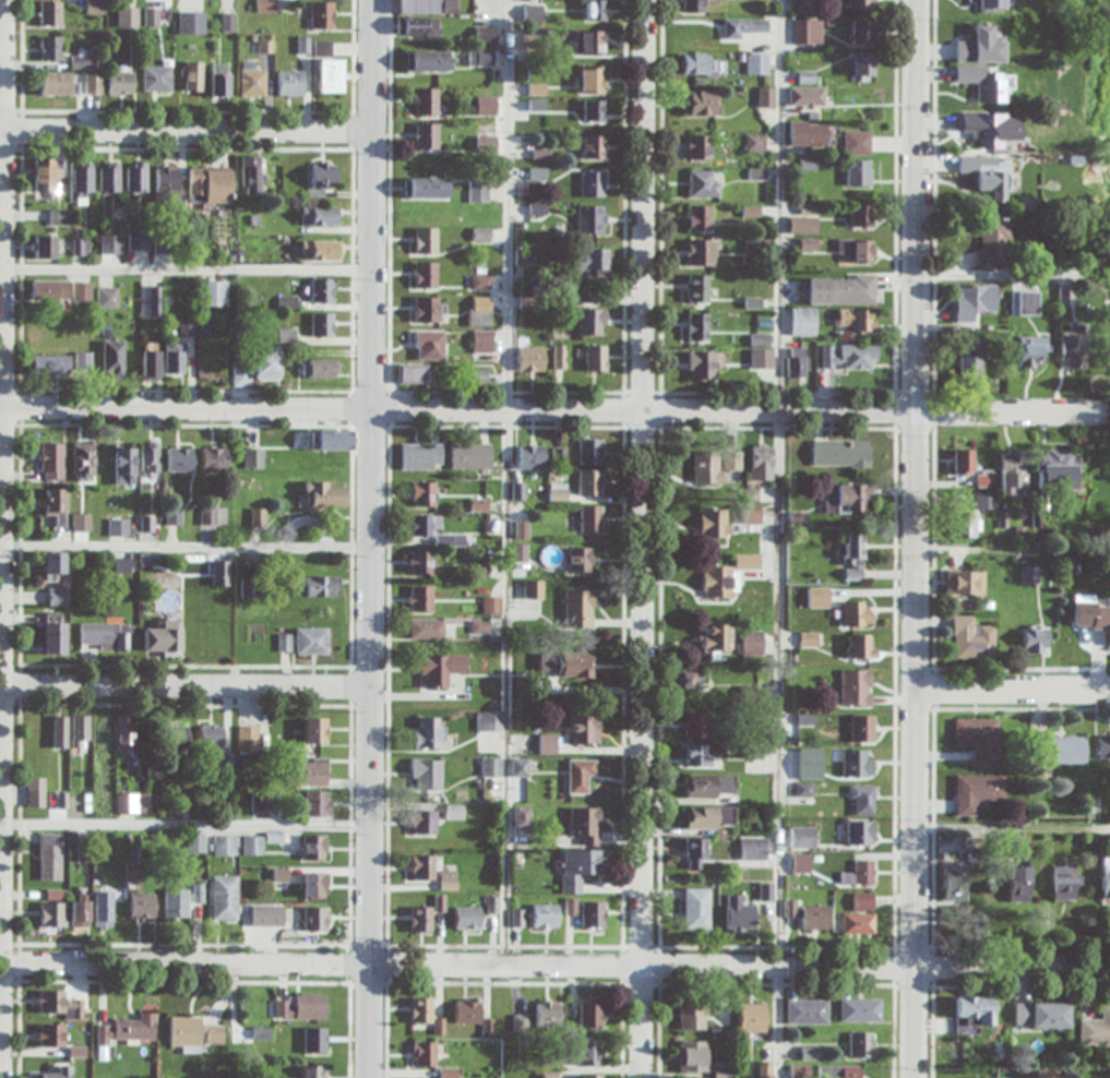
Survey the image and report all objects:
building: (863, 4)
building: (265, 5)
building: (693, 5)
building: (990, 5)
building: (94, 7)
building: (426, 7)
building: (594, 10)
building: (50, 14)
building: (322, 15)
building: (152, 16)
building: (128, 17)
building: (191, 23)
building: (416, 26)
building: (745, 27)
building: (808, 32)
building: (860, 32)
building: (485, 35)
building: (589, 41)
building: (980, 46)
building: (50, 50)
building: (480, 58)
building: (427, 61)
building: (79, 62)
building: (701, 64)
building: (757, 64)
building: (862, 65)
building: (330, 75)
building: (192, 76)
building: (156, 79)
building: (218, 80)
building: (251, 80)
building: (592, 80)
building: (121, 81)
building: (986, 82)
building: (290, 83)
building: (93, 84)
building: (55, 85)
building: (807, 97)
building: (765, 98)
building: (426, 101)
building: (699, 103)
building: (486, 106)
building: (594, 110)
building: (989, 128)
road: (186, 129)
building: (808, 135)
building: (426, 136)
building: (857, 142)
building: (593, 147)
building: (697, 147)
building: (858, 172)
building: (322, 175)
building: (988, 175)
building: (251, 176)
building: (48, 177)
building: (108, 177)
building: (135, 177)
building: (81, 180)
building: (703, 183)
building: (166, 184)
building: (592, 184)
building: (208, 185)
building: (425, 188)
building: (478, 192)
building: (319, 216)
building: (861, 216)
building: (58, 217)
building: (700, 218)
building: (589, 220)
building: (802, 226)
building: (139, 240)
building: (426, 240)
building: (993, 242)
building: (110, 244)
building: (44, 247)
building: (81, 247)
building: (320, 250)
building: (856, 251)
building: (699, 252)
building: (589, 261)
road: (186, 267)
road: (1003, 272)
building: (426, 274)
building: (697, 288)
building: (49, 289)
building: (322, 290)
building: (839, 290)
building: (81, 291)
building: (214, 294)
building: (1064, 297)
building: (108, 299)
building: (155, 301)
building: (974, 301)
building: (1024, 303)
building: (428, 309)
building: (480, 311)
building: (803, 321)
building: (857, 321)
building: (592, 322)
building: (322, 325)
building: (187, 327)
building: (697, 327)
building: (761, 339)
building: (482, 342)
building: (429, 345)
building: (1071, 346)
building: (1033, 350)
building: (560, 357)
building: (849, 357)
building: (174, 358)
building: (596, 358)
building: (112, 359)
building: (530, 359)
building: (762, 360)
building: (150, 361)
building: (266, 362)
building: (82, 363)
building: (797, 363)
building: (49, 364)
building: (968, 366)
building: (701, 367)
building: (320, 369)
building: (411, 373)
building: (241, 376)
road: (554, 409)
building: (331, 439)
building: (589, 451)
building: (840, 453)
building: (421, 456)
building: (469, 456)
building: (148, 457)
building: (532, 457)
building: (253, 458)
building: (179, 459)
building: (214, 459)
building: (733, 460)
building: (51, 462)
building: (83, 462)
building: (963, 462)
building: (761, 463)
building: (123, 466)
building: (707, 468)
building: (1057, 470)
building: (1012, 472)
building: (986, 478)
road: (1, 480)
building: (589, 482)
building: (558, 492)
building: (423, 493)
building: (324, 494)
building: (845, 499)
building: (984, 501)
building: (55, 508)
building: (751, 513)
building: (208, 516)
building: (174, 517)
building: (590, 518)
building: (88, 523)
building: (422, 525)
building: (716, 525)
building: (963, 525)
building: (118, 527)
road: (369, 538)
road: (641, 538)
road: (505, 539)
road: (781, 539)
road: (914, 539)
road: (184, 548)
building: (852, 548)
building: (520, 553)
building: (580, 560)
building: (419, 562)
building: (55, 566)
building: (123, 566)
building: (220, 573)
building: (1028, 574)
building: (726, 577)
building: (964, 584)
building: (319, 586)
building: (250, 587)
building: (533, 589)
building: (58, 597)
building: (420, 598)
building: (491, 606)
building: (578, 609)
building: (856, 613)
building: (1099, 621)
building: (426, 628)
building: (105, 636)
building: (53, 638)
building: (163, 638)
building: (715, 638)
building: (970, 639)
building: (1034, 639)
building: (312, 640)
building: (752, 643)
building: (860, 646)
building: (574, 666)
building: (440, 669)
building: (684, 680)
road: (184, 685)
building: (856, 687)
road: (1012, 687)
building: (488, 722)
building: (696, 724)
building: (584, 729)
building: (861, 729)
building: (315, 730)
building: (60, 732)
building: (80, 732)
building: (428, 732)
building: (124, 733)
building: (211, 735)
building: (178, 736)
building: (103, 738)
building: (249, 739)
building: (977, 739)
building: (548, 744)
building: (1102, 747)
building: (1061, 750)
building: (697, 755)
building: (805, 756)
building: (848, 763)
building: (491, 767)
building: (520, 767)
building: (311, 771)
building: (427, 774)
building: (581, 776)
building: (711, 787)
building: (36, 792)
building: (977, 792)
building: (186, 794)
building: (99, 799)
building: (862, 799)
building: (133, 802)
building: (262, 802)
building: (318, 803)
building: (521, 817)
building: (711, 817)
building: (423, 822)
building: (585, 825)
road: (1012, 827)
road: (184, 828)
building: (859, 833)
building: (802, 837)
building: (195, 843)
building: (226, 846)
building: (253, 846)
building: (314, 848)
building: (752, 848)
building: (695, 852)
building: (50, 858)
building: (799, 862)
building: (422, 867)
building: (580, 867)
building: (858, 874)
building: (447, 881)
building: (1064, 881)
building: (953, 882)
building: (1017, 883)
building: (1105, 884)
building: (314, 885)
building: (226, 897)
building: (182, 900)
building: (103, 908)
building: (143, 908)
building: (696, 909)
building: (53, 910)
building: (79, 911)
building: (739, 913)
building: (593, 914)
building: (810, 914)
building: (267, 915)
building: (545, 915)
building: (859, 917)
building: (467, 918)
building: (314, 919)
building: (420, 920)
road: (554, 965)
building: (60, 1005)
building: (300, 1007)
building: (422, 1010)
building: (860, 1010)
building: (807, 1011)
building: (467, 1013)
building: (548, 1014)
building: (971, 1014)
building: (1041, 1015)
building: (590, 1017)
building: (751, 1017)
building: (692, 1018)
building: (520, 1021)
building: (1095, 1028)
building: (126, 1032)
building: (194, 1033)
building: (50, 1035)
building: (315, 1040)
building: (860, 1044)
building: (588, 1051)
building: (423, 1054)
building: (692, 1056)
building: (313, 1071)
building: (837, 1071)
building: (52, 1073)
building: (1047, 1074)
building: (590, 1076)

